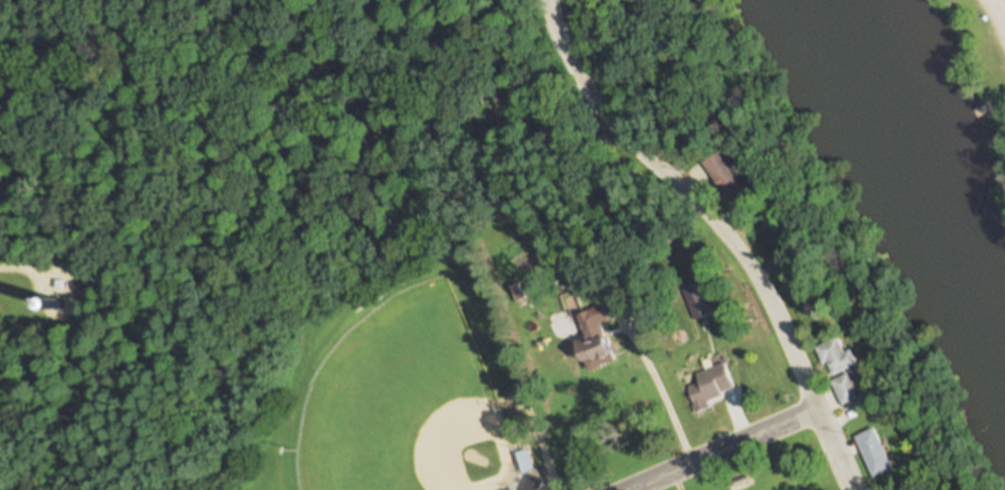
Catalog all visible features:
park: (983, 55)
river: (930, 147)
road: (1003, 160)
building: (727, 177)
road: (722, 228)
park: (292, 245)
road: (24, 270)
building: (698, 300)
building: (64, 304)
water tower: (77, 316)
building: (595, 341)
building: (841, 356)
building: (710, 383)
building: (849, 389)
road: (662, 397)
park: (405, 405)
road: (725, 450)
building: (878, 452)
building: (526, 461)
park: (770, 463)
building: (535, 482)

